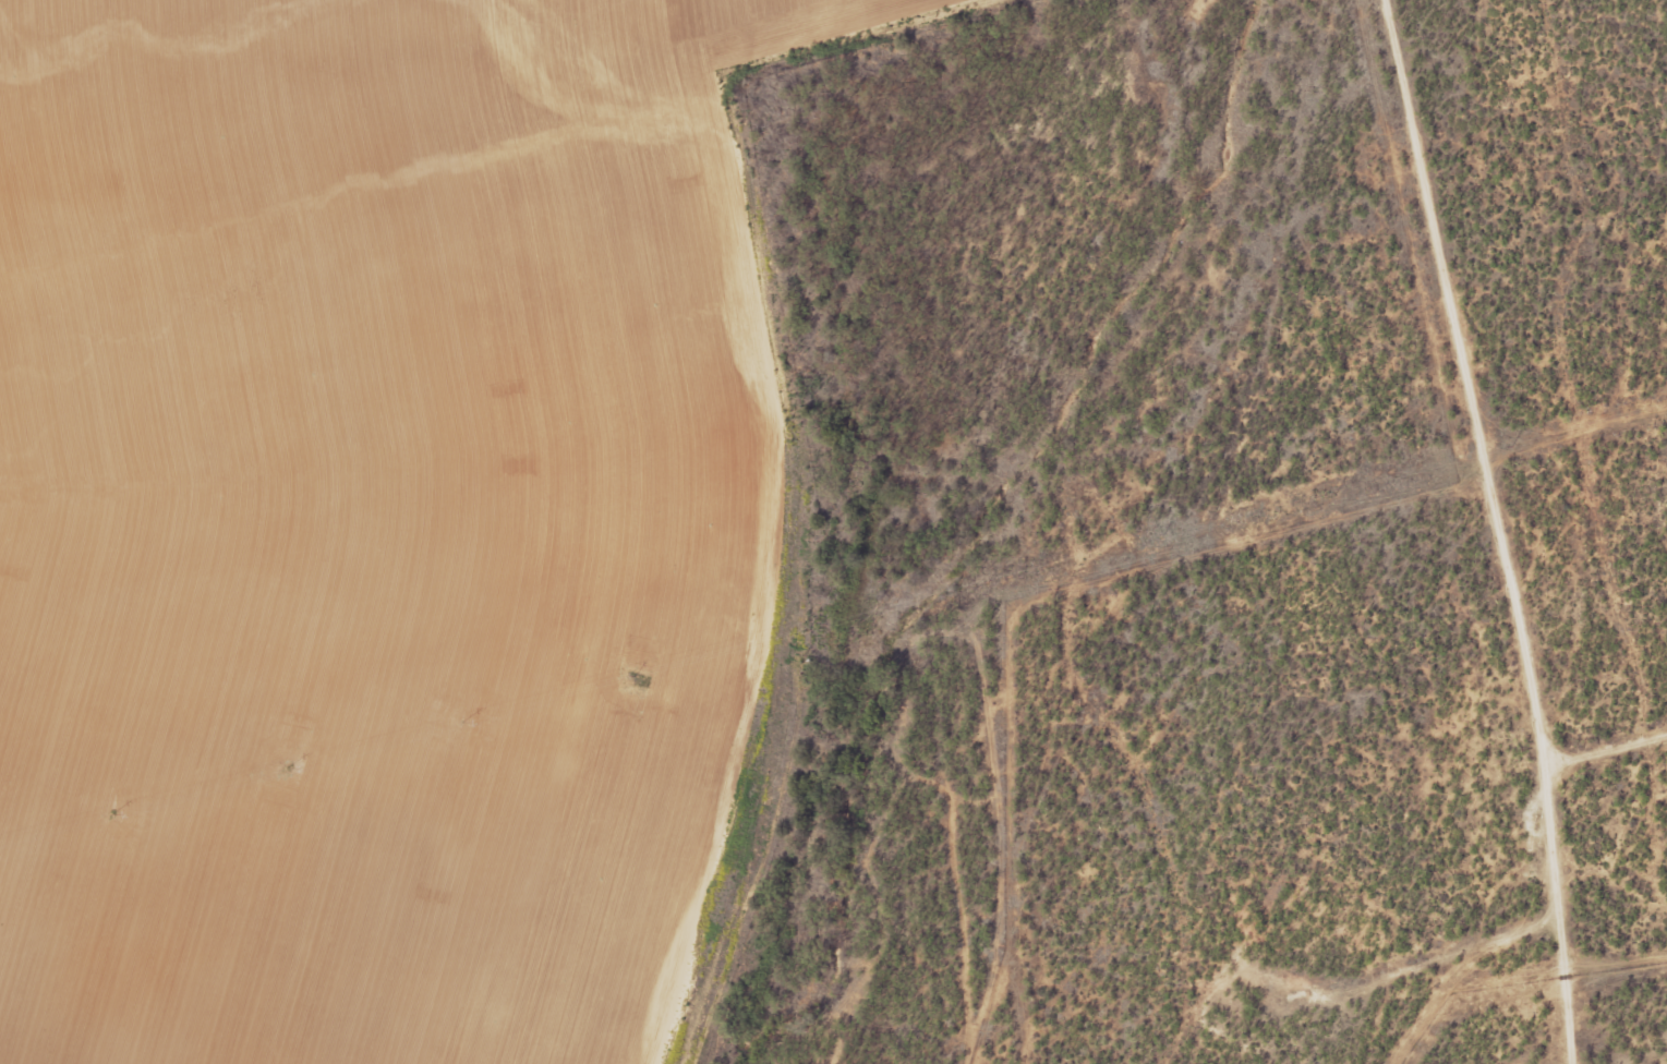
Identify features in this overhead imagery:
road: (1489, 484)
road: (1114, 580)
road: (1570, 1019)

